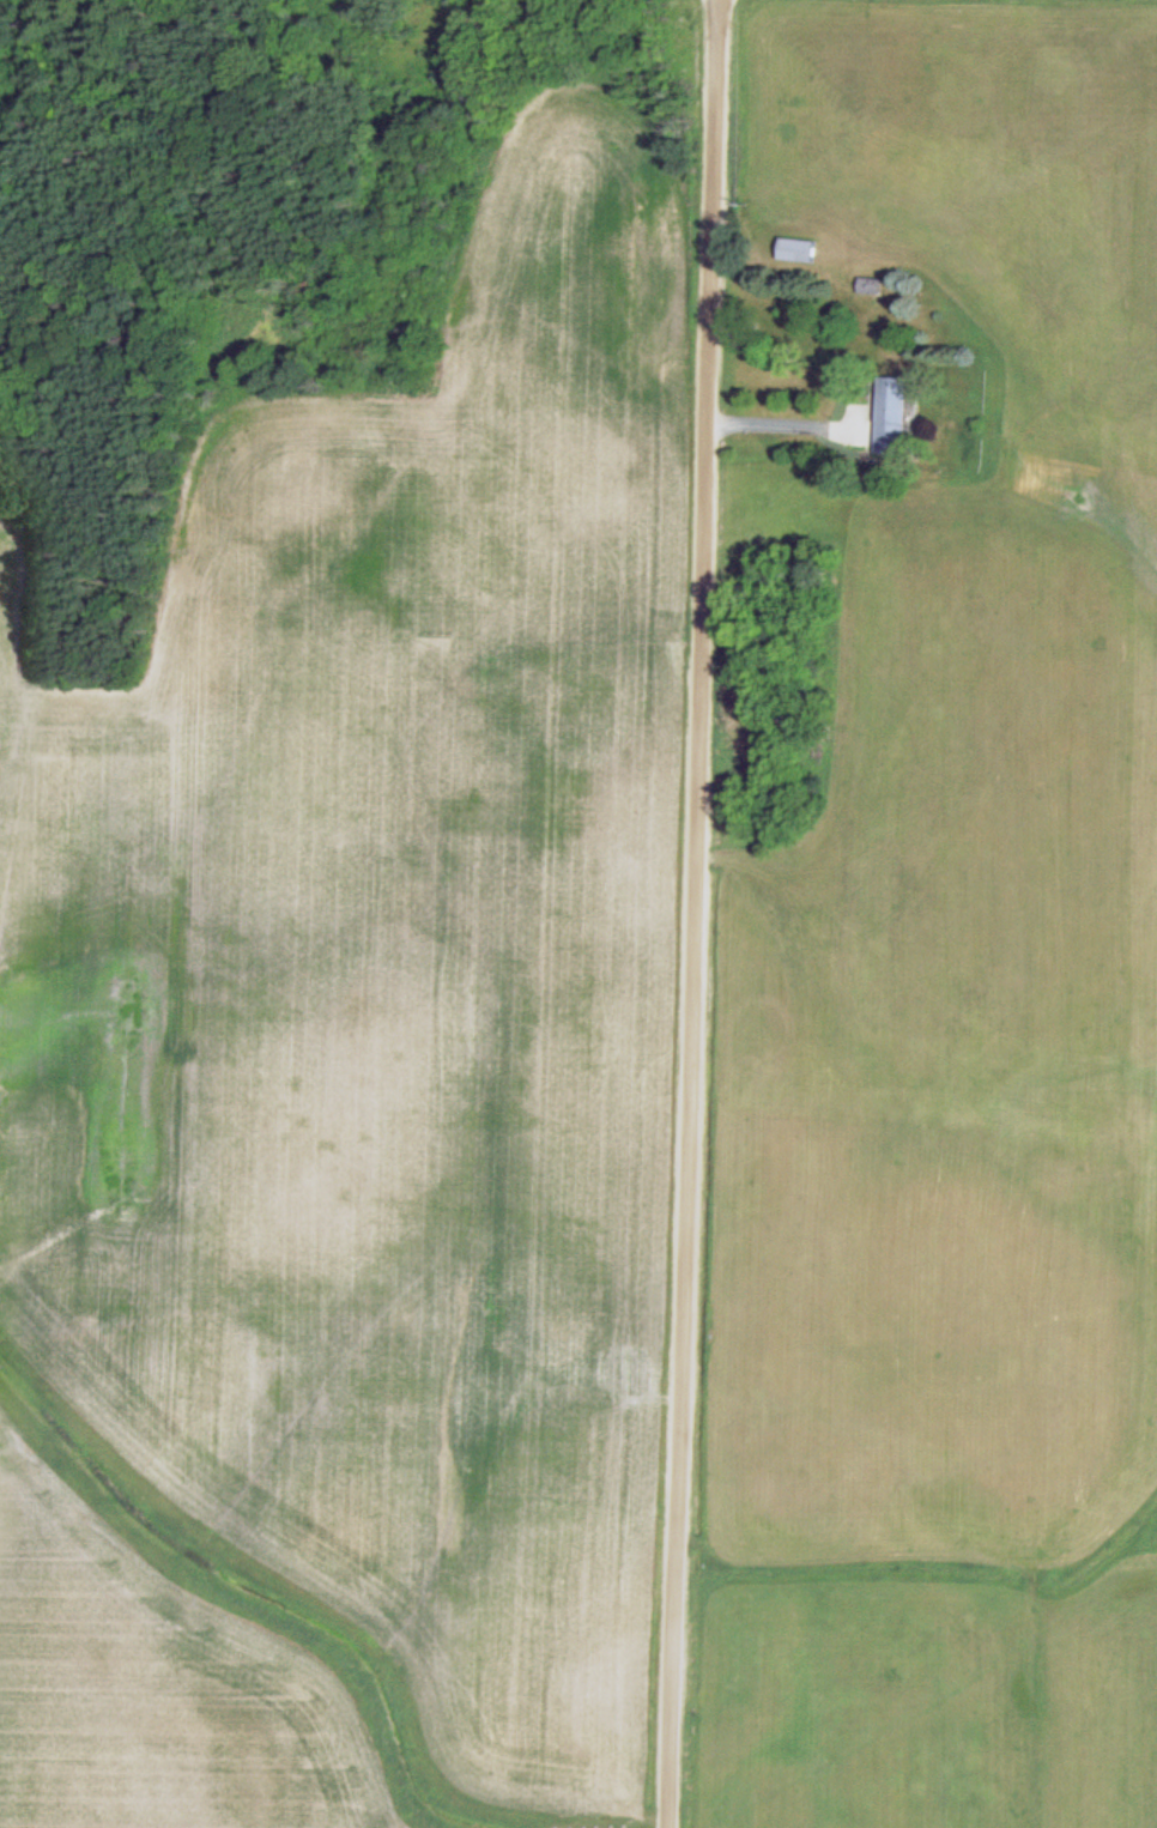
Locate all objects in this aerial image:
building: (800, 249)
building: (872, 285)
building: (894, 414)
road: (695, 914)

